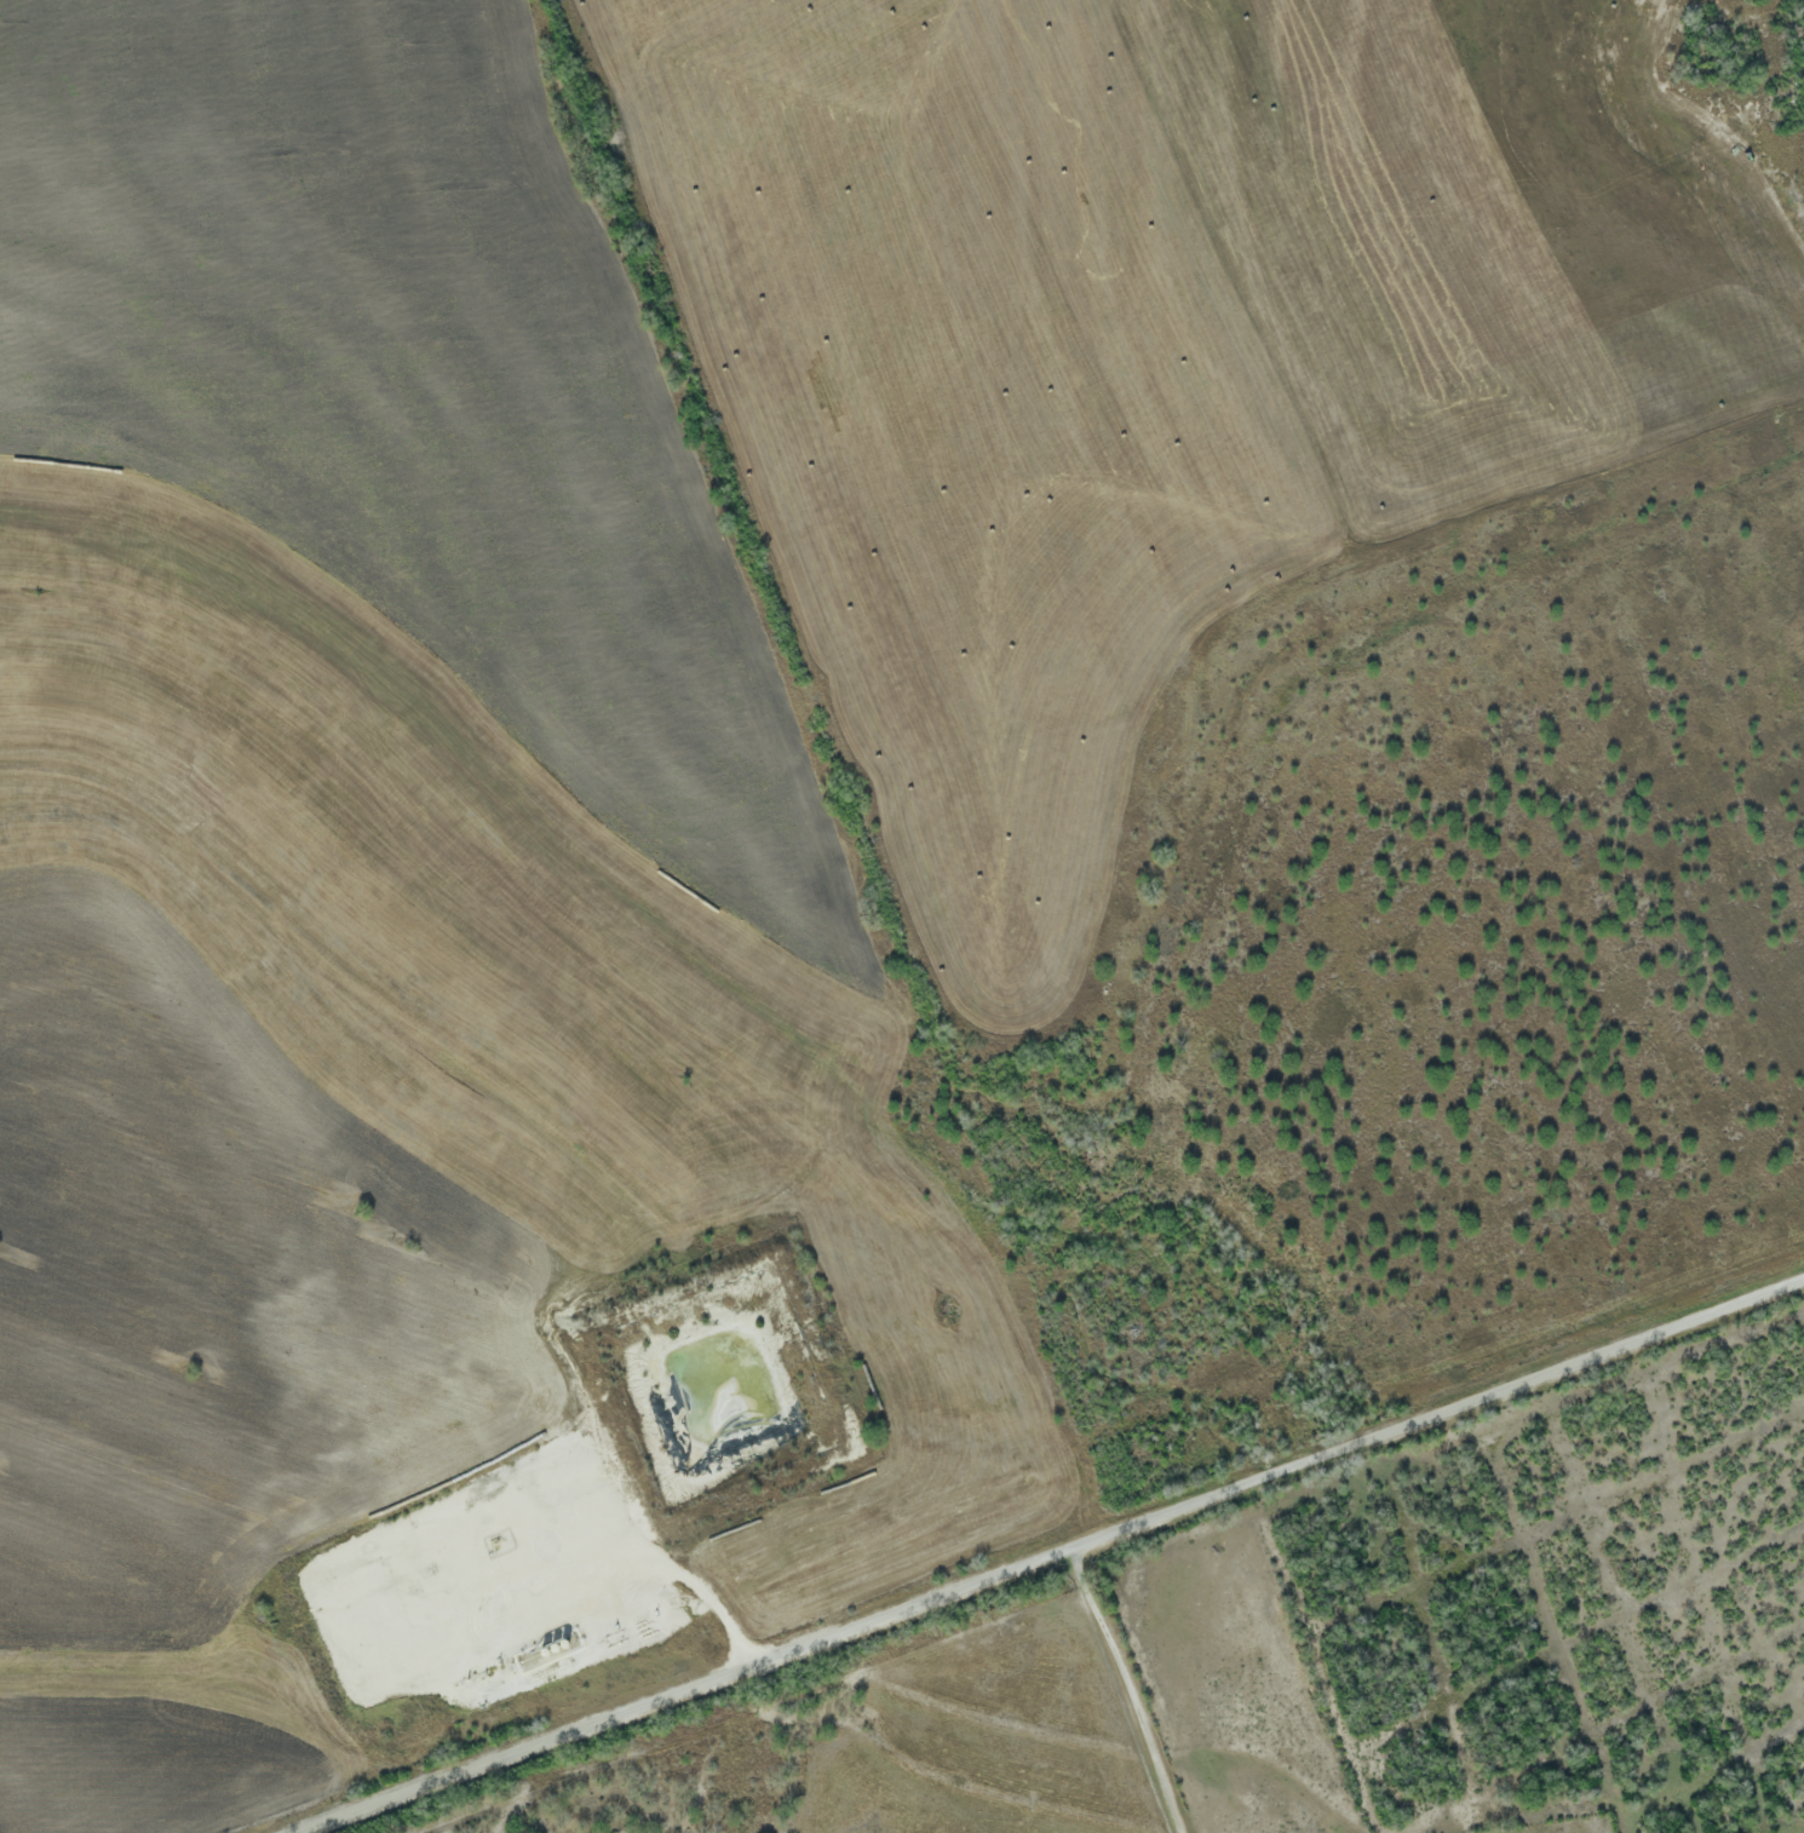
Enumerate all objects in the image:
road: (1051, 1557)

